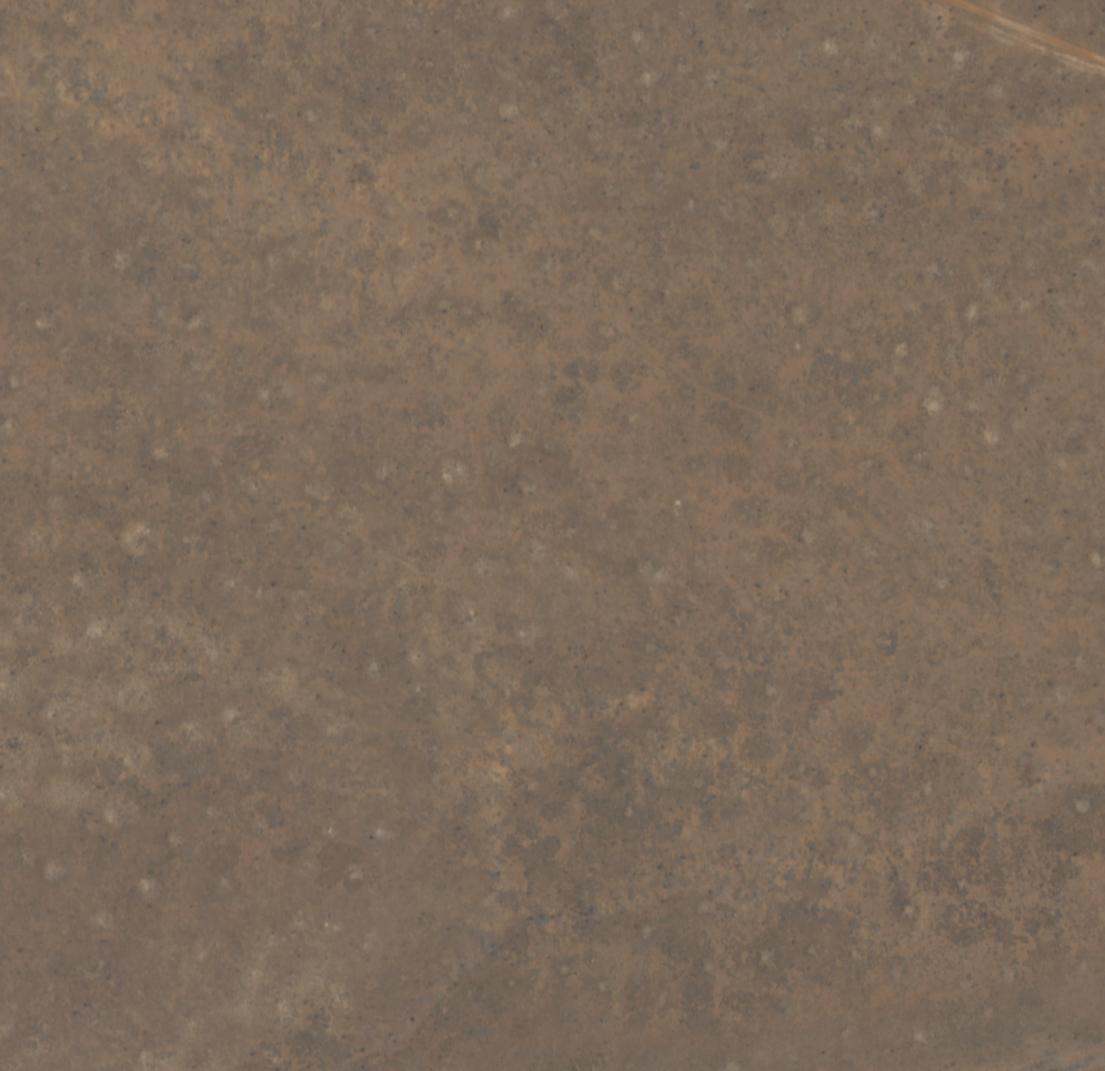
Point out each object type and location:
road: (1027, 29)

